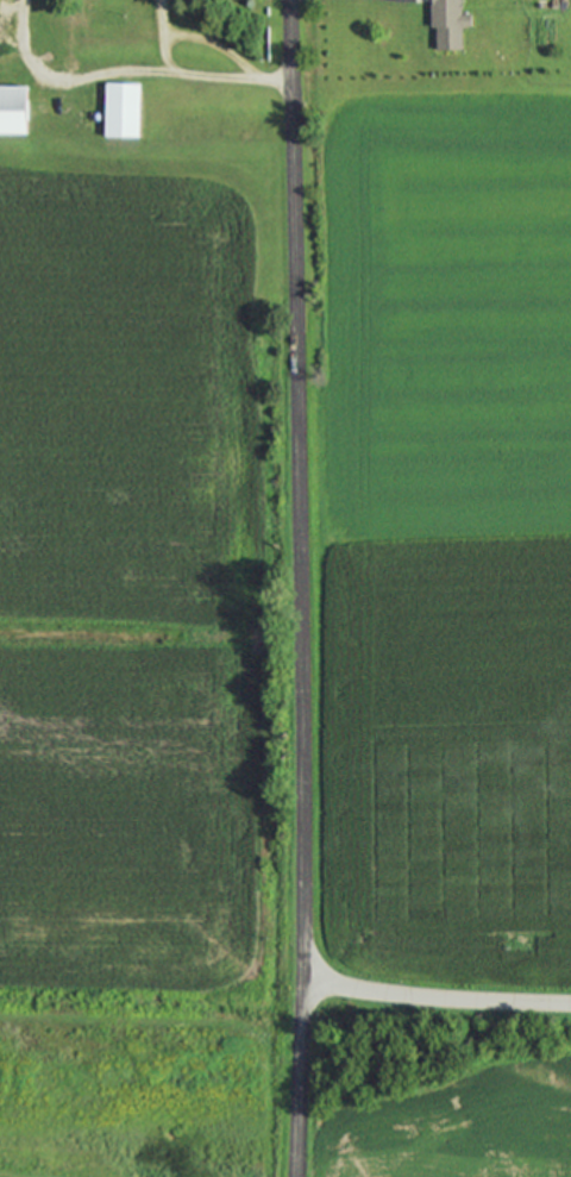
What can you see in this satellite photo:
building: (446, 24)
building: (11, 109)
building: (119, 109)
road: (299, 588)
road: (437, 1001)

